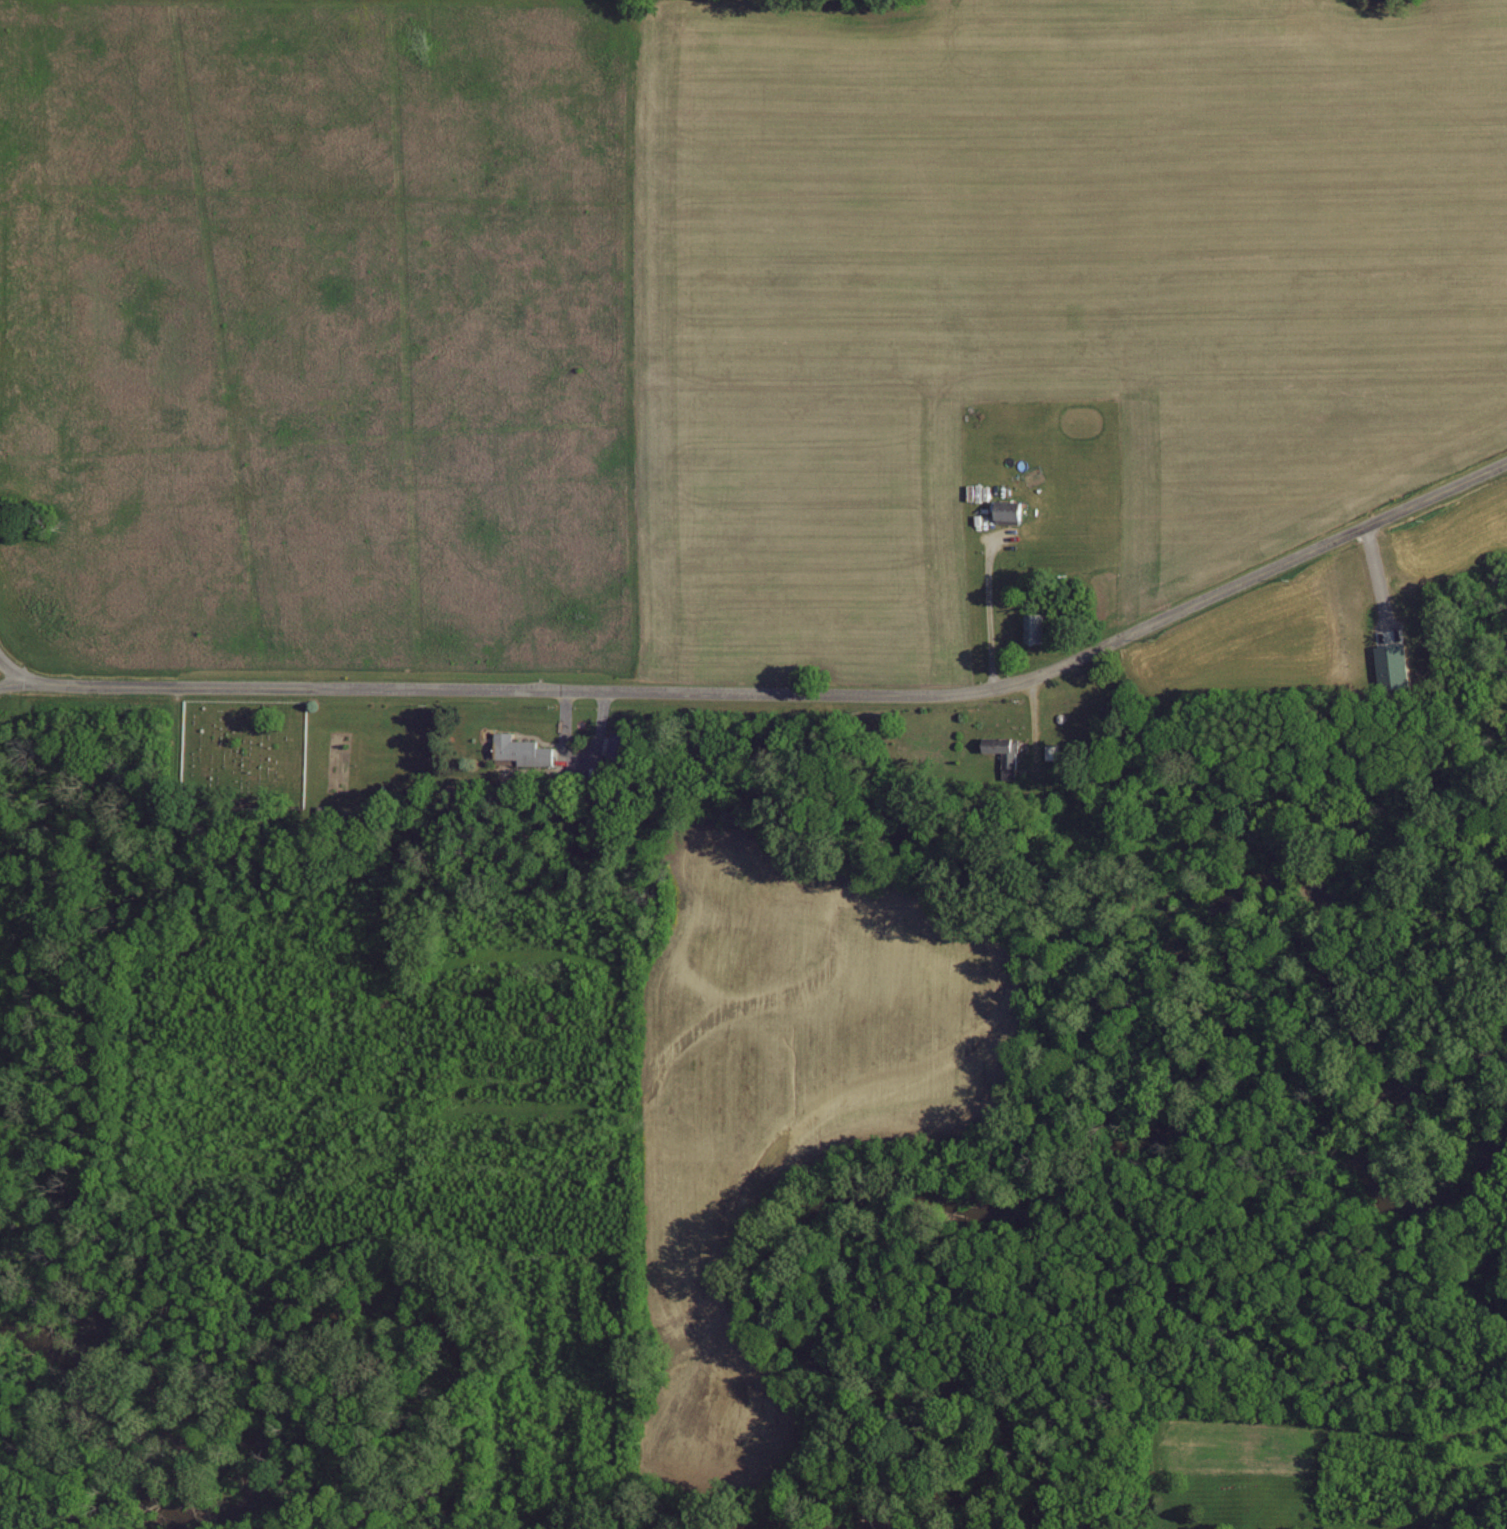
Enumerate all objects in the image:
crop: (1044, 283)
road: (8, 670)
road: (776, 694)

